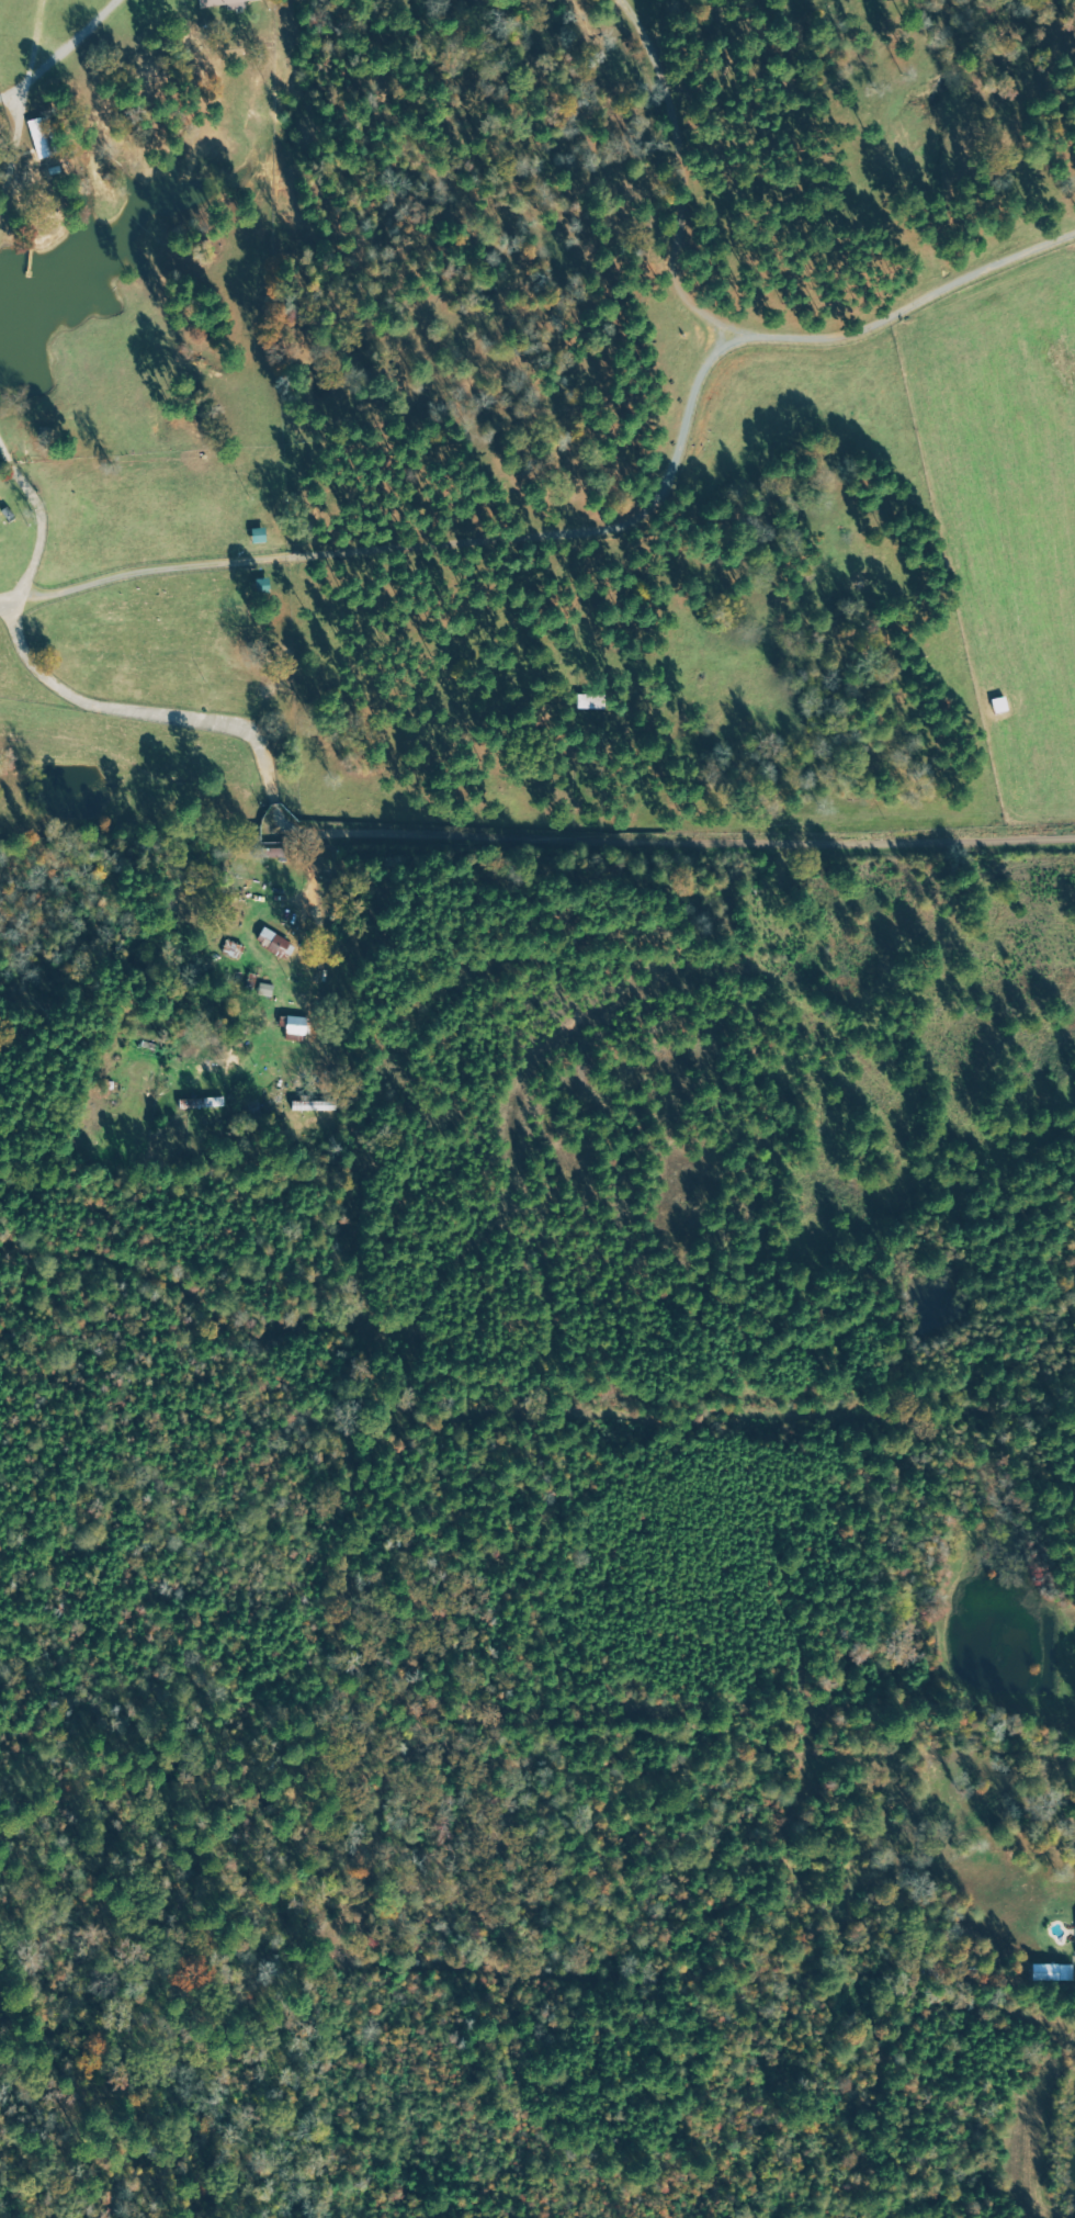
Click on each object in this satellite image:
building: (197, 0)
building: (223, 3)
road: (66, 46)
road: (16, 85)
road: (8, 93)
road: (3, 610)
road: (388, 831)
building: (275, 945)
building: (264, 990)
building: (294, 1026)
road: (949, 1775)
building: (1050, 1973)

